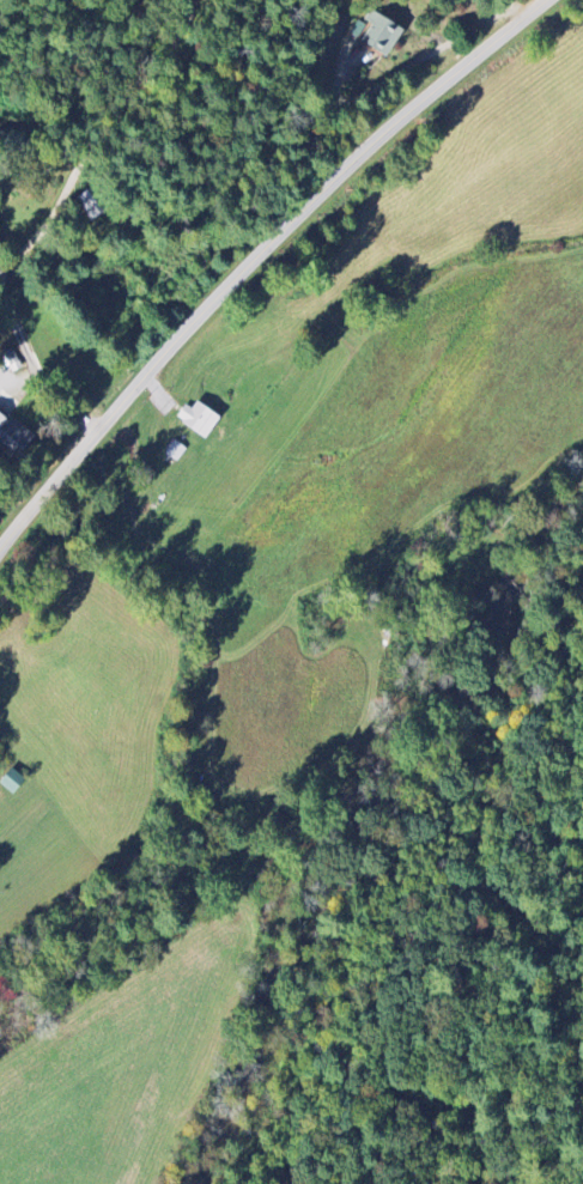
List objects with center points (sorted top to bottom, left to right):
building: (374, 35)
road: (409, 66)
road: (92, 125)
road: (256, 259)
road: (19, 335)
building: (201, 419)
building: (12, 435)
building: (177, 450)
river: (493, 655)
building: (14, 782)
river: (265, 977)

